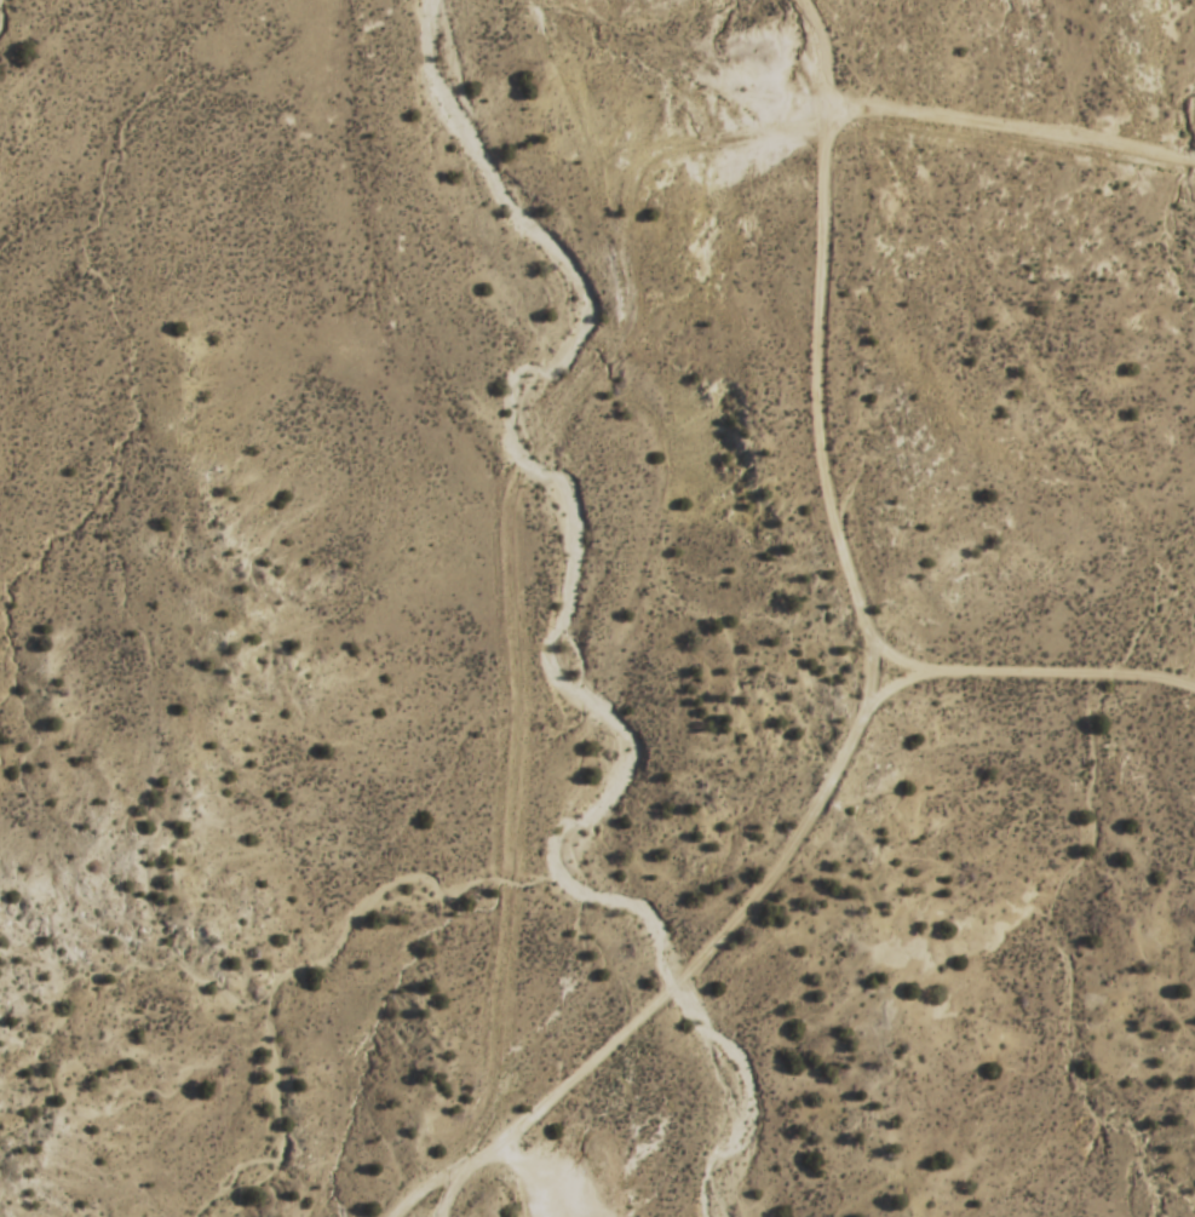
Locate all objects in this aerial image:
road: (958, 121)
road: (875, 690)

